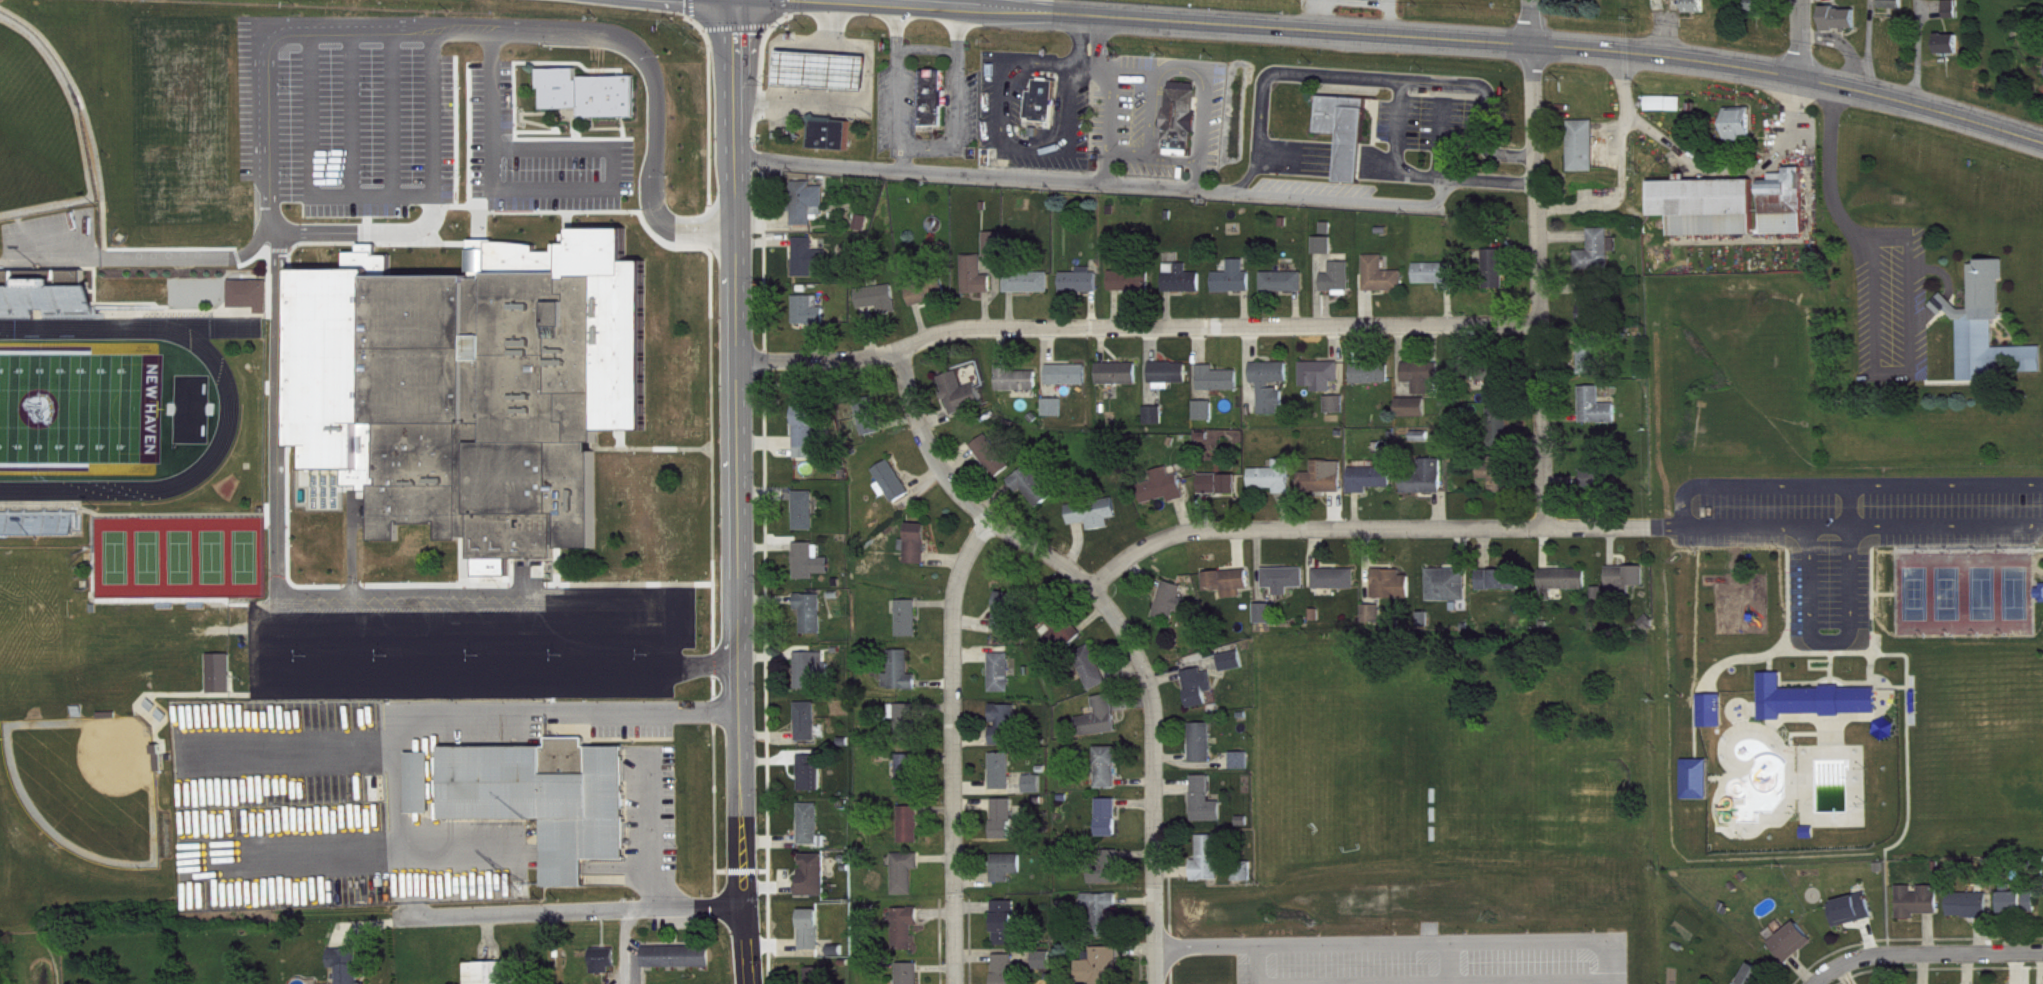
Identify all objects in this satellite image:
building: (1373, 4)
building: (1698, 12)
building: (1762, 13)
building: (1954, 18)
road: (1533, 21)
building: (1842, 27)
road: (895, 30)
building: (195, 33)
road: (588, 36)
road: (1799, 38)
road: (1075, 39)
road: (1474, 39)
road: (1101, 40)
road: (925, 47)
building: (190, 49)
building: (1950, 53)
road: (1088, 66)
road: (1128, 68)
road: (1273, 73)
building: (823, 79)
road: (1203, 90)
building: (586, 92)
road: (957, 98)
road: (1483, 100)
road: (898, 102)
building: (936, 106)
building: (1045, 109)
building: (1666, 112)
road: (349, 113)
road: (390, 113)
road: (430, 113)
road: (1152, 113)
road: (267, 114)
road: (309, 114)
road: (1111, 120)
parking lot: (343, 122)
building: (1183, 127)
park: (34, 130)
building: (1741, 132)
road: (1004, 134)
building: (1348, 140)
building: (834, 142)
road: (1395, 152)
road: (901, 153)
building: (1585, 154)
parking lot: (535, 155)
road: (1129, 155)
road: (1174, 157)
road: (1198, 171)
road: (1625, 173)
road: (1140, 180)
road: (553, 187)
road: (370, 194)
building: (809, 211)
building: (1785, 211)
building: (1708, 215)
road: (272, 219)
parking lot: (51, 230)
building: (865, 231)
building: (1329, 236)
building: (996, 252)
building: (1325, 253)
road: (146, 258)
building: (1599, 259)
building: (811, 266)
building: (1497, 277)
building: (1438, 283)
building: (977, 284)
building: (1384, 284)
road: (1536, 285)
building: (1183, 287)
building: (1235, 287)
building: (1340, 287)
building: (1132, 289)
building: (1082, 290)
building: (1285, 290)
building: (1029, 291)
building: (930, 301)
building: (251, 303)
building: (880, 307)
building: (45, 309)
building: (1594, 311)
building: (811, 319)
road: (277, 325)
road: (1133, 326)
building: (1989, 337)
building: (1591, 361)
building: (1465, 379)
building: (1171, 381)
building: (1120, 382)
building: (1374, 382)
building: (1069, 383)
building: (1322, 383)
building: (1424, 384)
building: (1495, 385)
building: (473, 386)
building: (1018, 387)
building: (1220, 387)
building: (1273, 393)
building: (963, 402)
track: (228, 403)
park: (79, 407)
building: (1337, 412)
building: (1599, 415)
building: (1055, 416)
building: (1415, 416)
building: (1206, 419)
building: (1157, 423)
building: (872, 425)
building: (1501, 432)
building: (809, 440)
building: (994, 464)
building: (1598, 476)
building: (1500, 482)
road: (1846, 484)
building: (1275, 486)
building: (1325, 486)
building: (1372, 487)
building: (1428, 487)
building: (896, 490)
road: (737, 492)
building: (1222, 492)
building: (1035, 495)
building: (1164, 495)
road: (1849, 504)
building: (807, 519)
building: (1096, 522)
road: (1760, 524)
road: (1946, 524)
road: (1373, 529)
parking lot: (1853, 531)
building: (918, 552)
park: (212, 555)
park: (244, 555)
park: (115, 556)
park: (148, 556)
park: (179, 556)
building: (813, 570)
building: (1338, 587)
building: (1566, 587)
building: (1629, 587)
building: (1287, 588)
building: (1502, 588)
building: (1231, 591)
park: (1963, 592)
building: (1394, 593)
building: (1450, 593)
road: (475, 596)
park: (1830, 601)
building: (2041, 601)
building: (1173, 609)
building: (1009, 620)
building: (1267, 621)
building: (812, 622)
building: (1375, 622)
road: (1121, 625)
building: (910, 627)
road: (274, 631)
road: (466, 635)
building: (1063, 640)
parking lot: (468, 641)
road: (1828, 643)
road: (704, 664)
building: (1234, 669)
building: (1093, 676)
building: (815, 679)
building: (902, 681)
building: (1003, 681)
building: (224, 682)
building: (1201, 695)
building: (1811, 698)
building: (1708, 708)
road: (456, 714)
building: (1102, 726)
building: (909, 728)
building: (810, 730)
park: (1982, 731)
building: (1007, 733)
road: (290, 749)
road: (956, 751)
building: (1204, 751)
building: (1243, 769)
building: (1110, 776)
building: (1693, 777)
building: (1004, 780)
building: (910, 781)
building: (813, 782)
park: (85, 783)
building: (422, 792)
building: (1036, 792)
building: (543, 795)
parking lot: (650, 805)
building: (1207, 809)
building: (1111, 826)
building: (1006, 827)
road: (649, 830)
building: (1806, 830)
building: (912, 833)
building: (813, 834)
road: (296, 852)
building: (1210, 867)
building: (1009, 875)
building: (1109, 875)
building: (908, 881)
road: (409, 882)
building: (1245, 883)
building: (816, 884)
road: (568, 909)
building: (1920, 909)
building: (2020, 909)
building: (1971, 913)
building: (1853, 918)
building: (1107, 921)
building: (1007, 931)
building: (908, 936)
building: (813, 938)
road: (1400, 940)
building: (1794, 950)
road: (1927, 954)
parking lot: (1435, 958)
road: (1448, 962)
road: (1256, 964)
building: (680, 965)
building: (345, 969)
building: (605, 969)
building: (1045, 969)
building: (1102, 971)
building: (1007, 973)
building: (495, 977)
building: (912, 977)
building: (1759, 979)
building: (819, 980)
road: (1483, 982)

